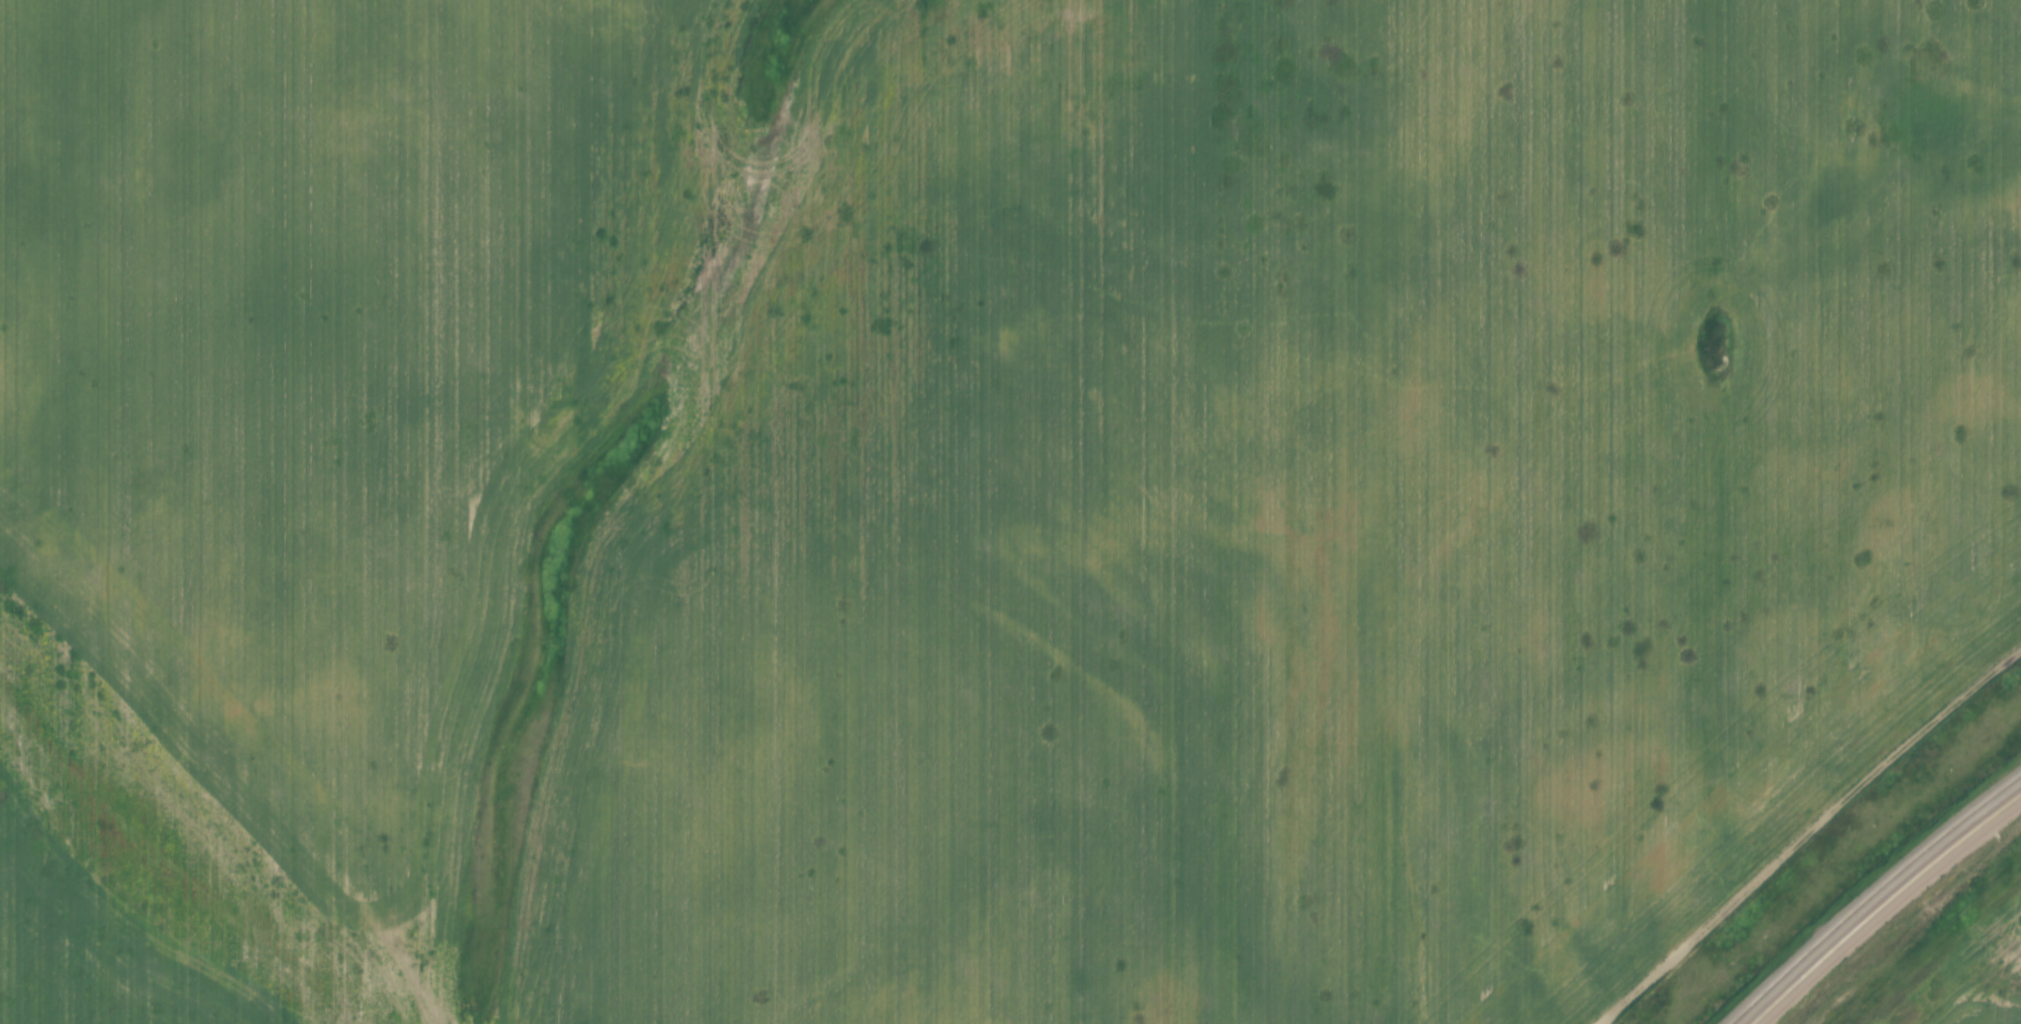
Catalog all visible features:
road: (1807, 832)
railway: (1872, 896)
railway: (1882, 906)

